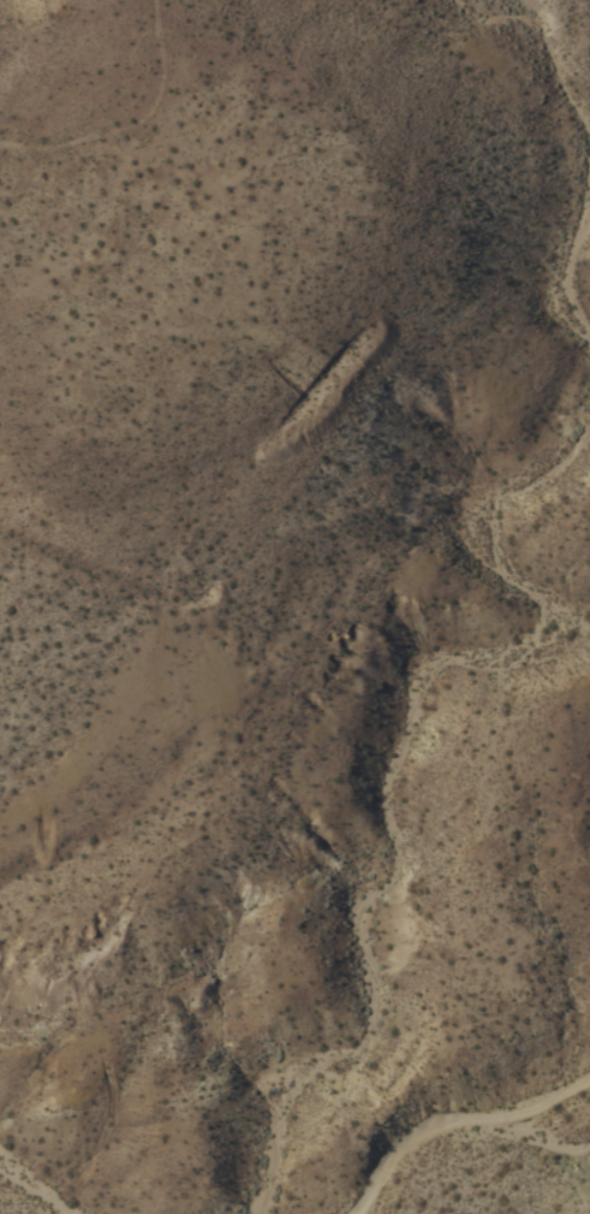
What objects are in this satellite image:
road: (126, 119)
road: (452, 1114)

